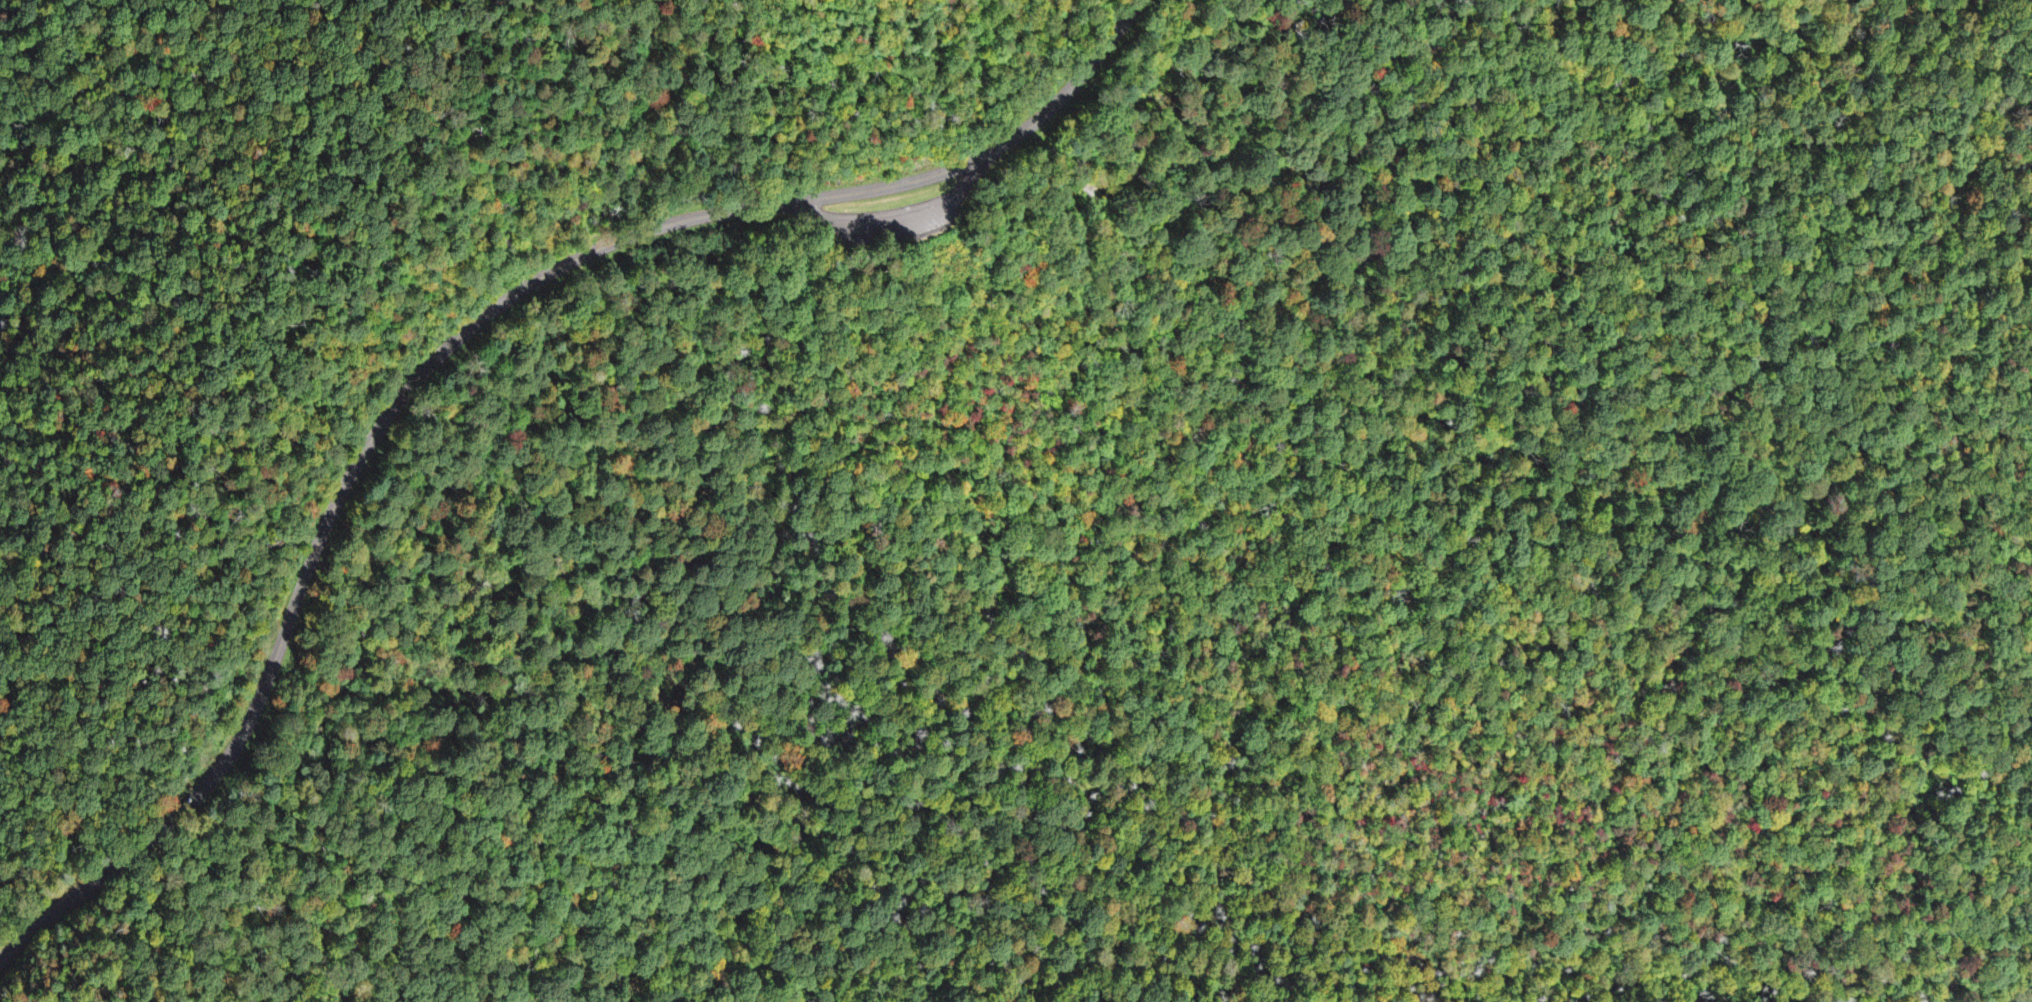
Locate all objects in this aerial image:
road: (895, 213)
parking lot: (891, 215)
road: (532, 281)
road: (246, 430)
road: (71, 898)

